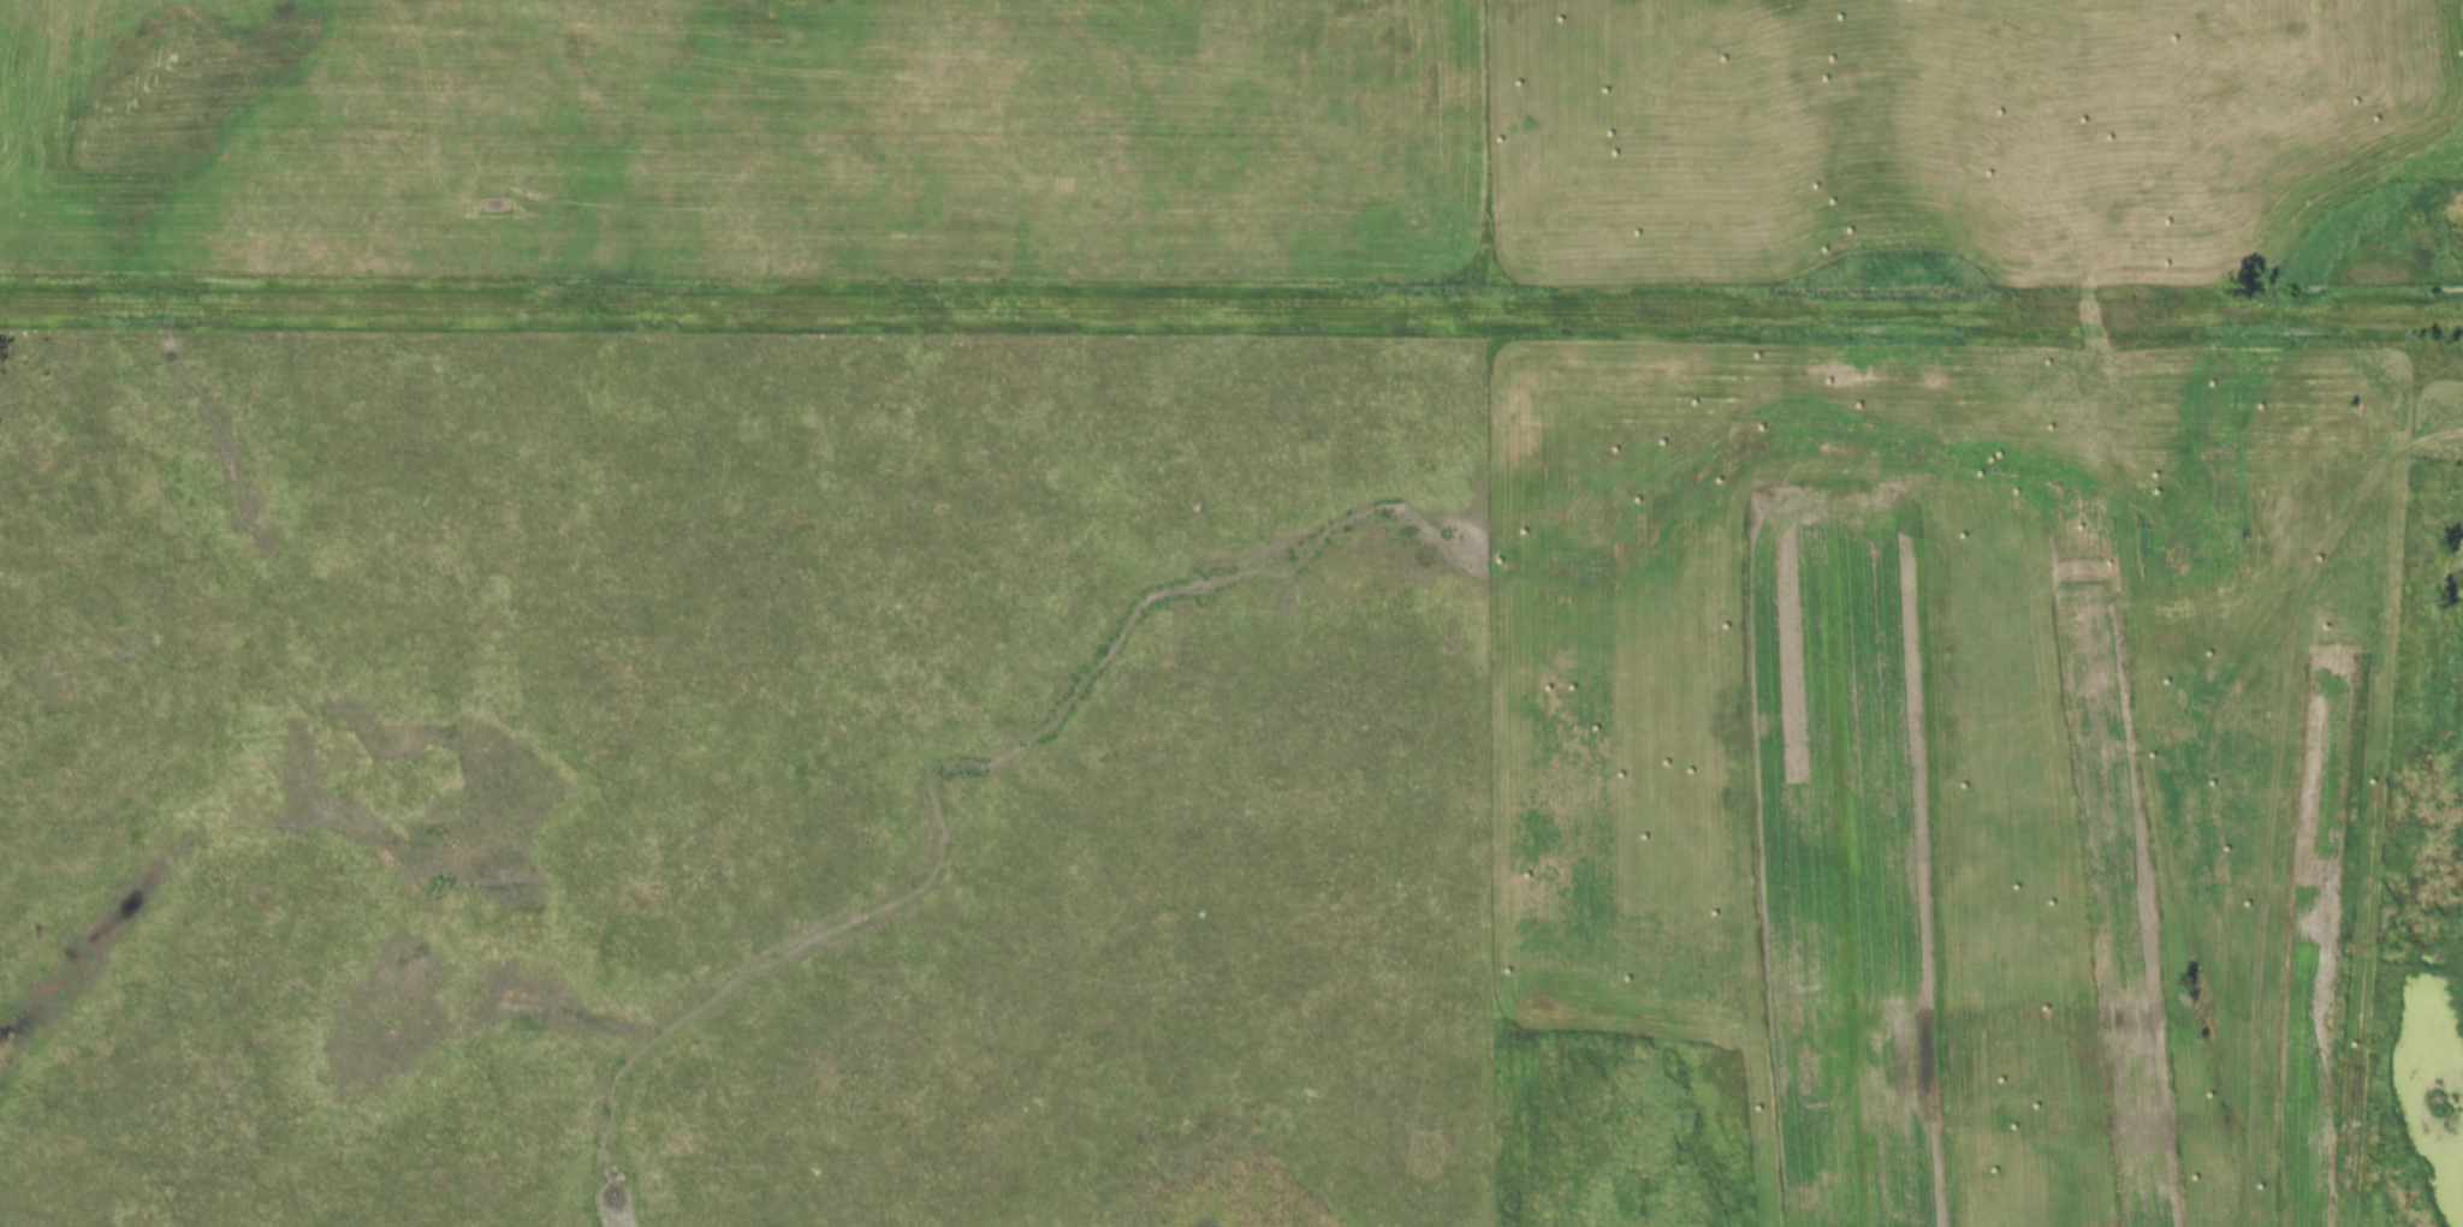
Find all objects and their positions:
airport runway: (1205, 304)

